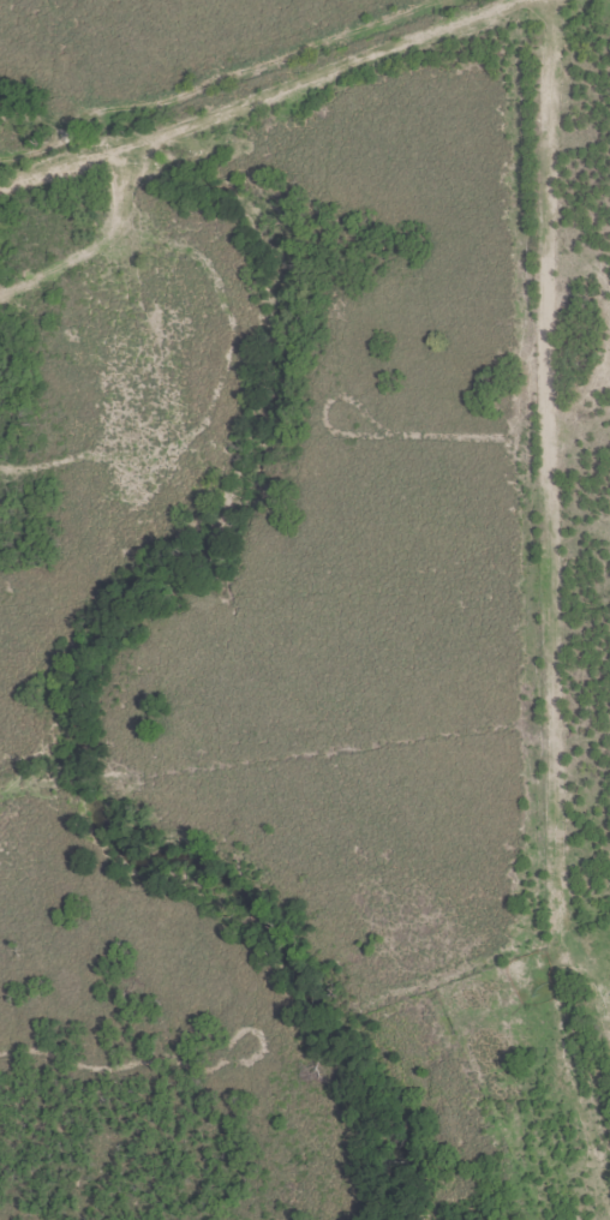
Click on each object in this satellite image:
road: (262, 96)

